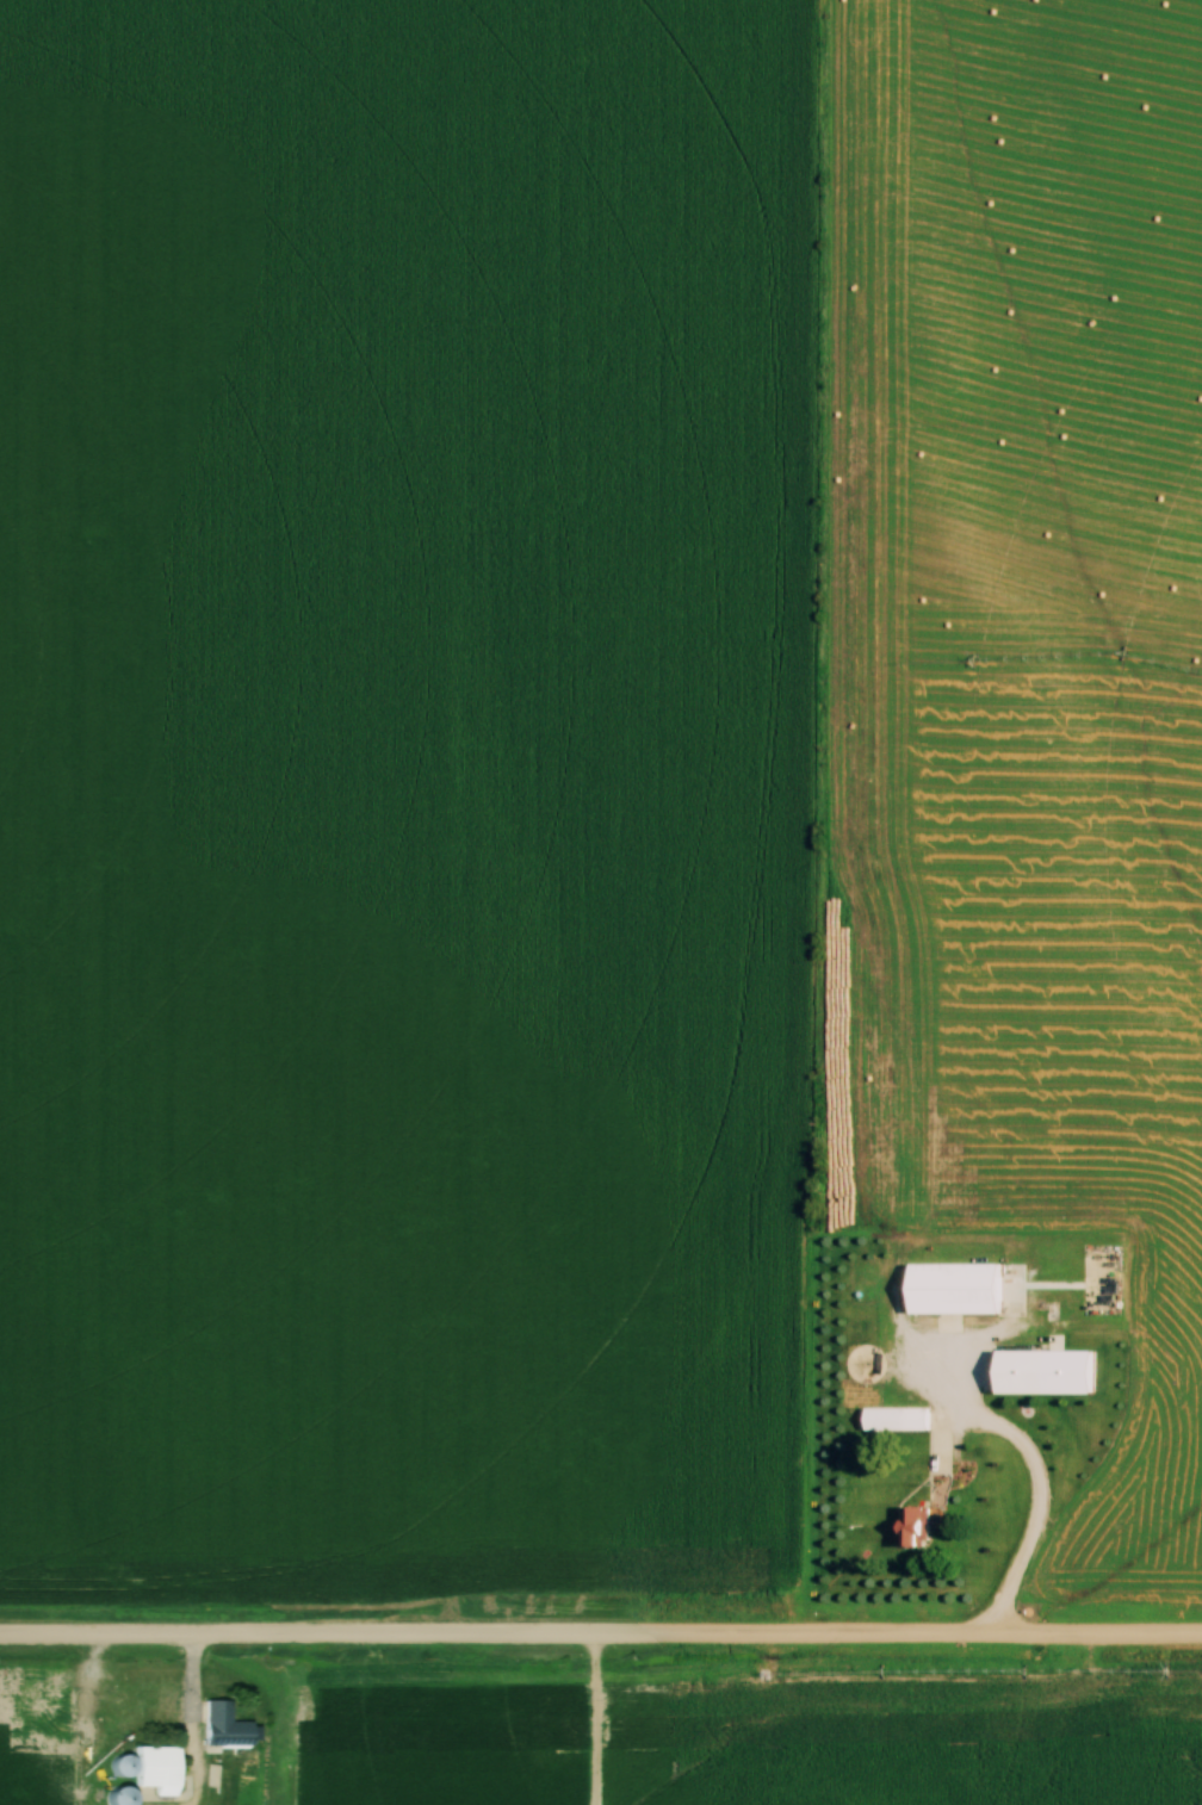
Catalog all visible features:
building: (949, 1289)
building: (1017, 1372)
building: (901, 1419)
road: (1040, 1484)
road: (600, 1636)
building: (222, 1728)
building: (149, 1767)

